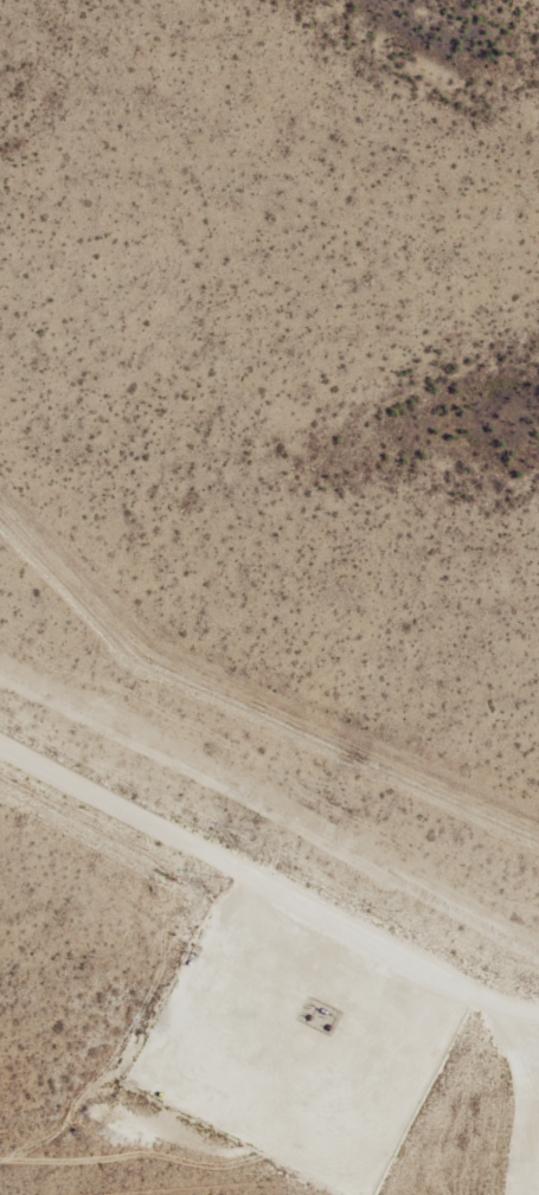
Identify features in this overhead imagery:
road: (269, 880)
road: (307, 1030)

